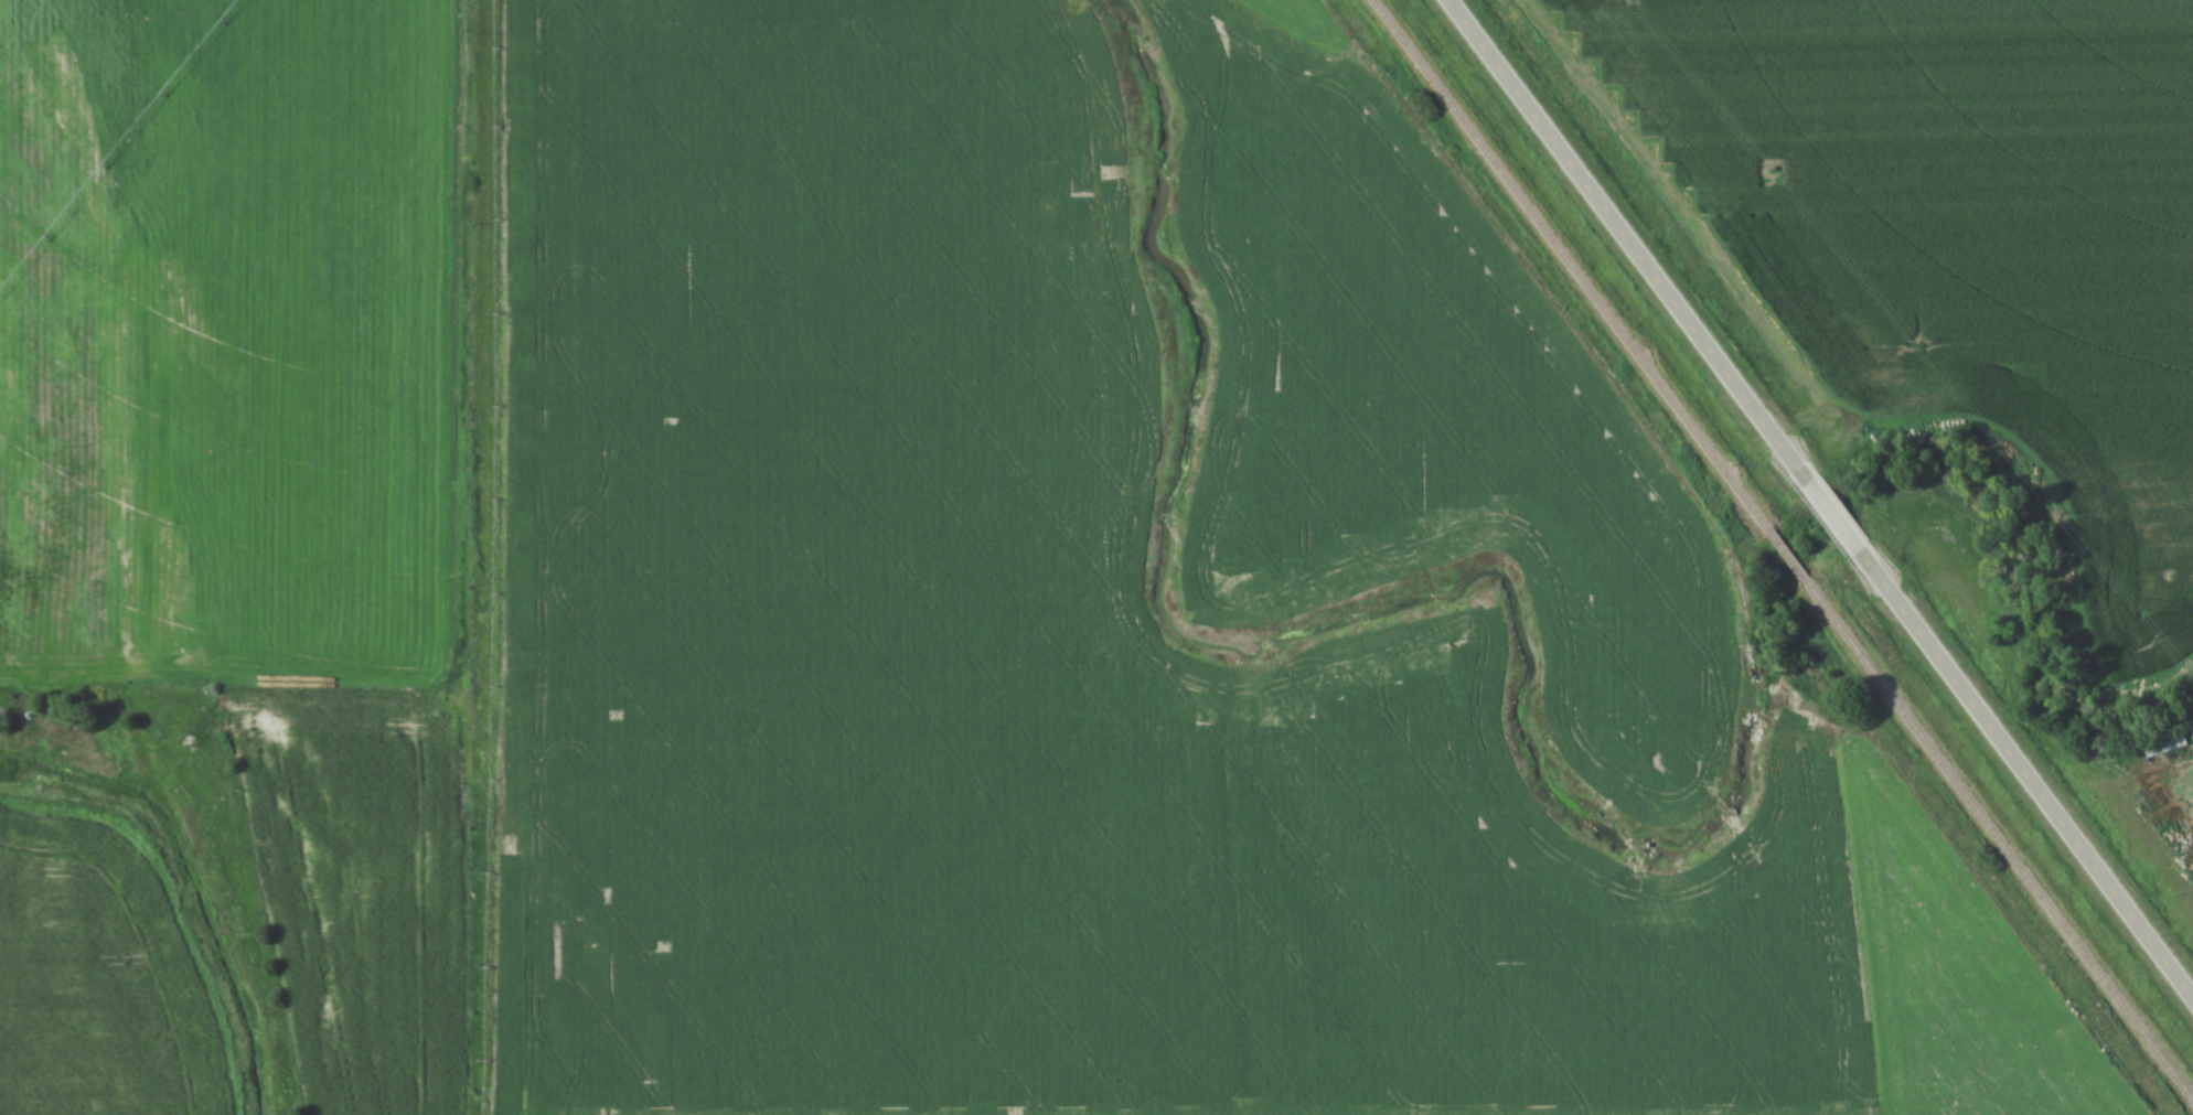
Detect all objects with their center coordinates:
road: (1616, 233)
railway: (1569, 266)
road: (1840, 526)
railway: (1787, 559)
building: (2163, 748)
road: (2039, 792)
railway: (2000, 841)

